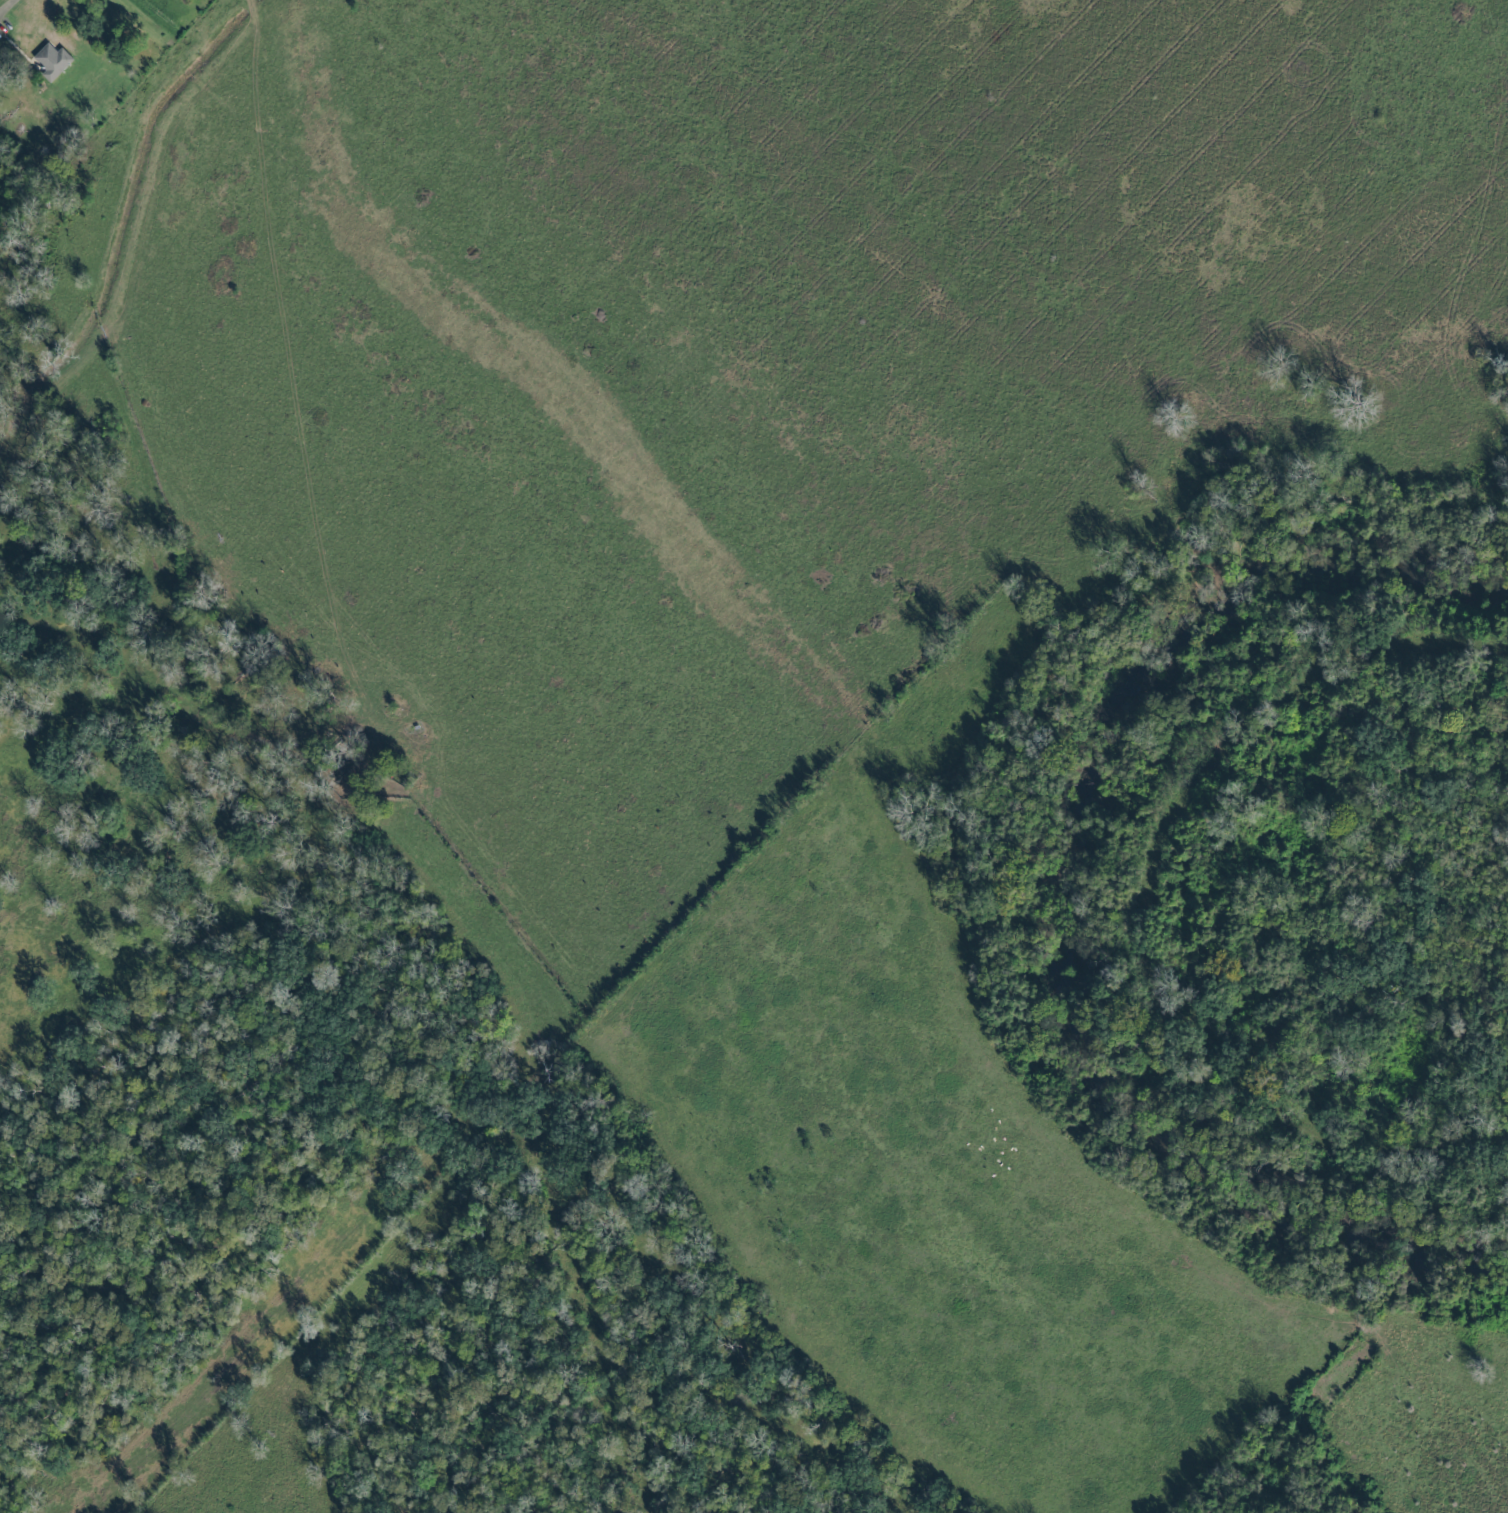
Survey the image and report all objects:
road: (9, 9)
road: (16, 51)
building: (54, 61)

